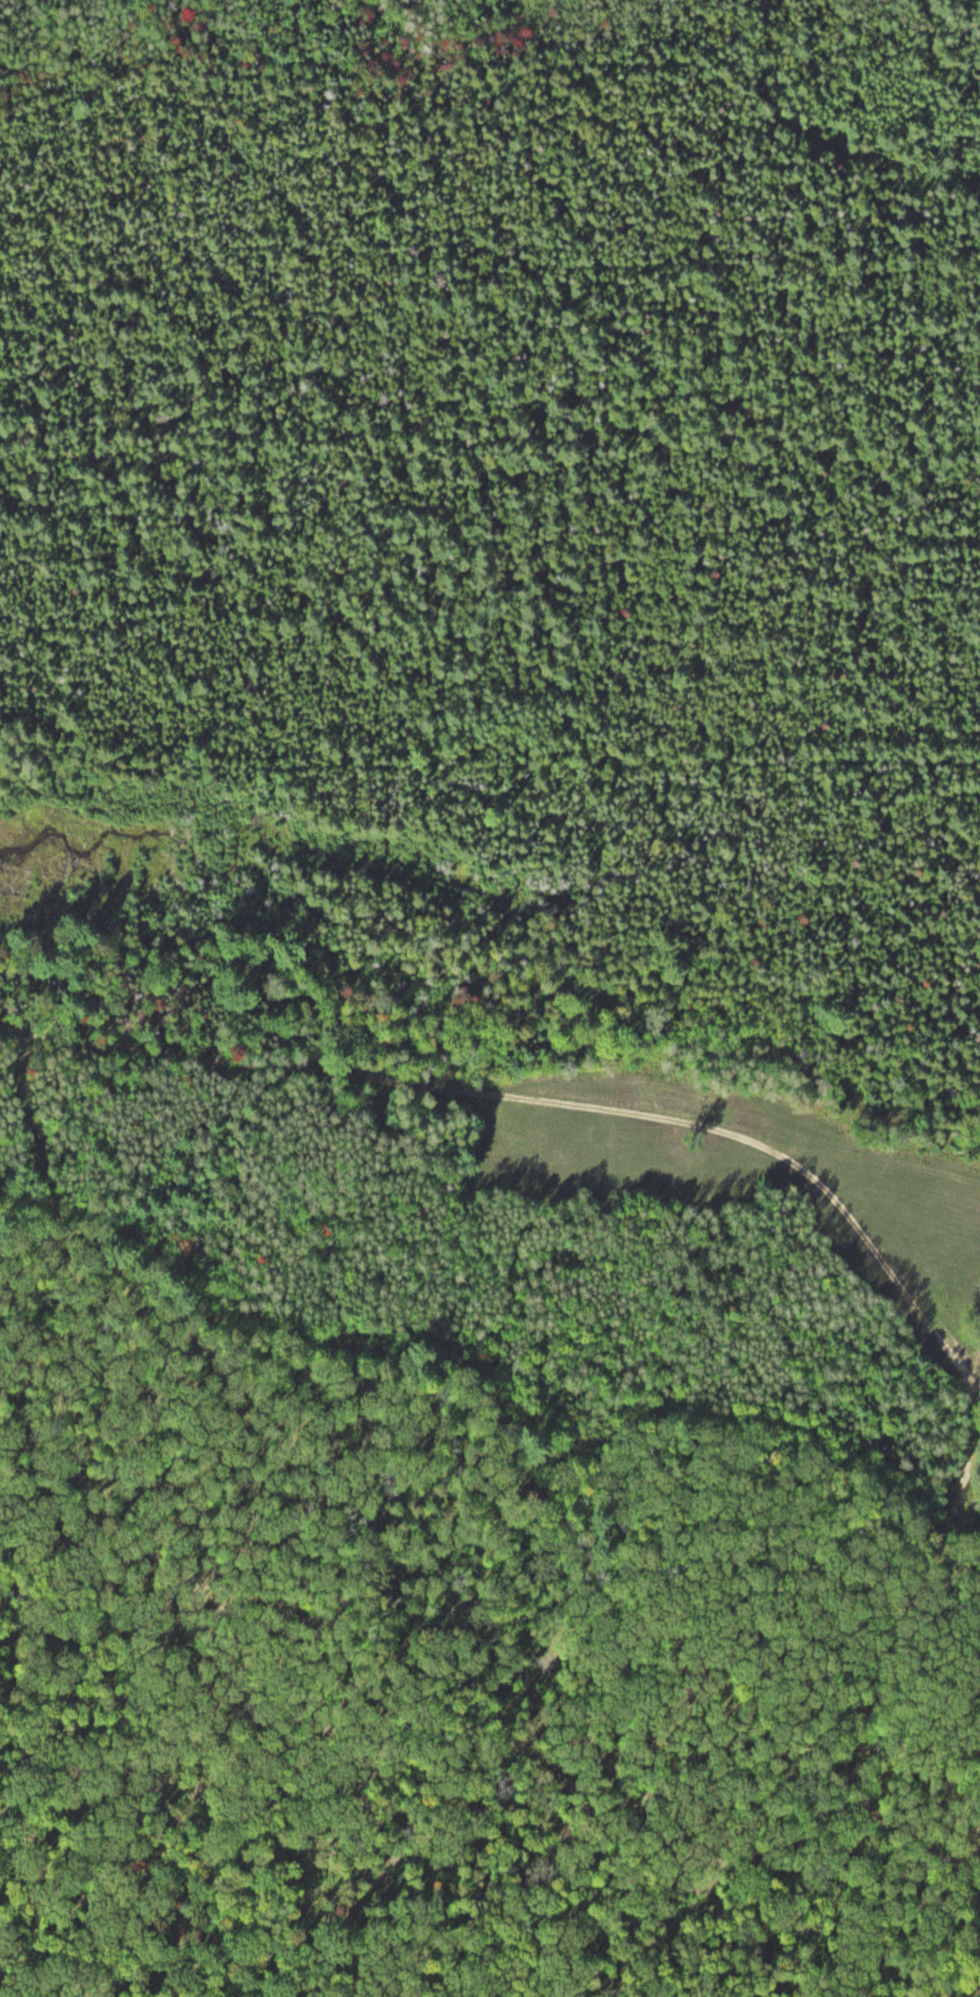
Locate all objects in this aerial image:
road: (247, 1069)
road: (971, 1406)

